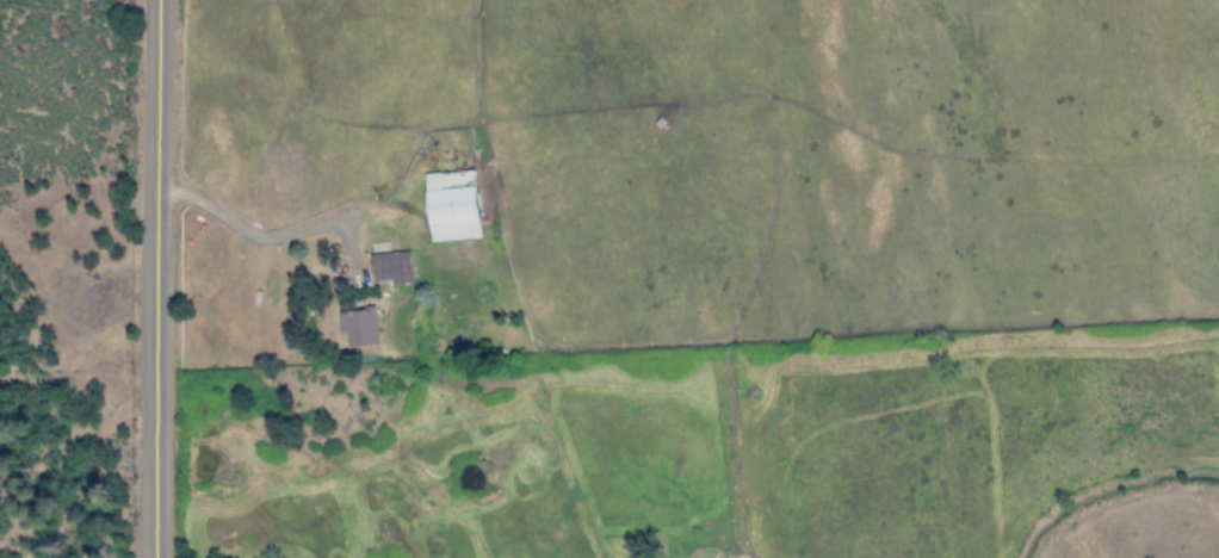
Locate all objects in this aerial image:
building: (450, 205)
building: (390, 267)
road: (154, 278)
building: (360, 327)

